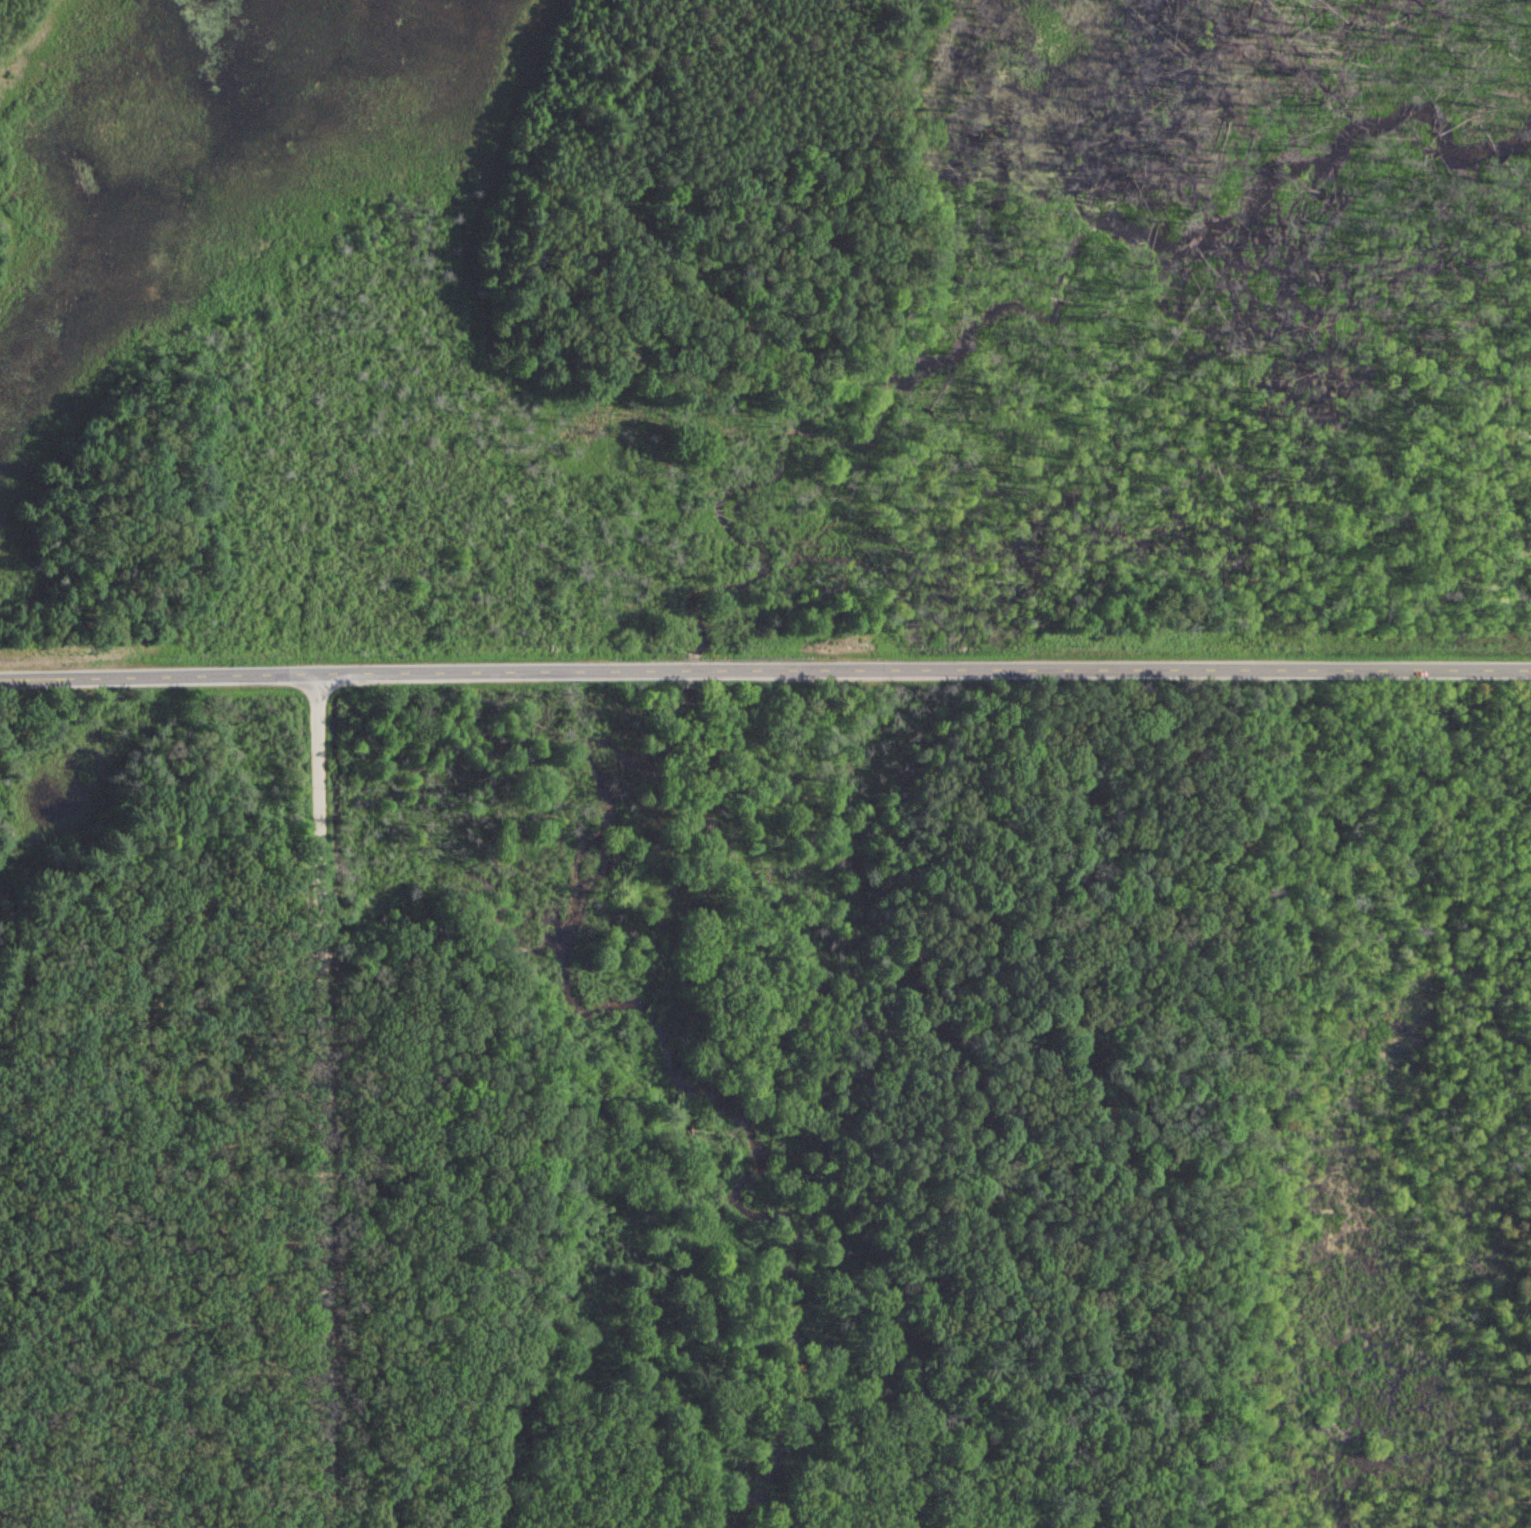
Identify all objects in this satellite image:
road: (695, 664)
road: (1124, 665)
road: (337, 672)
road: (318, 1100)

